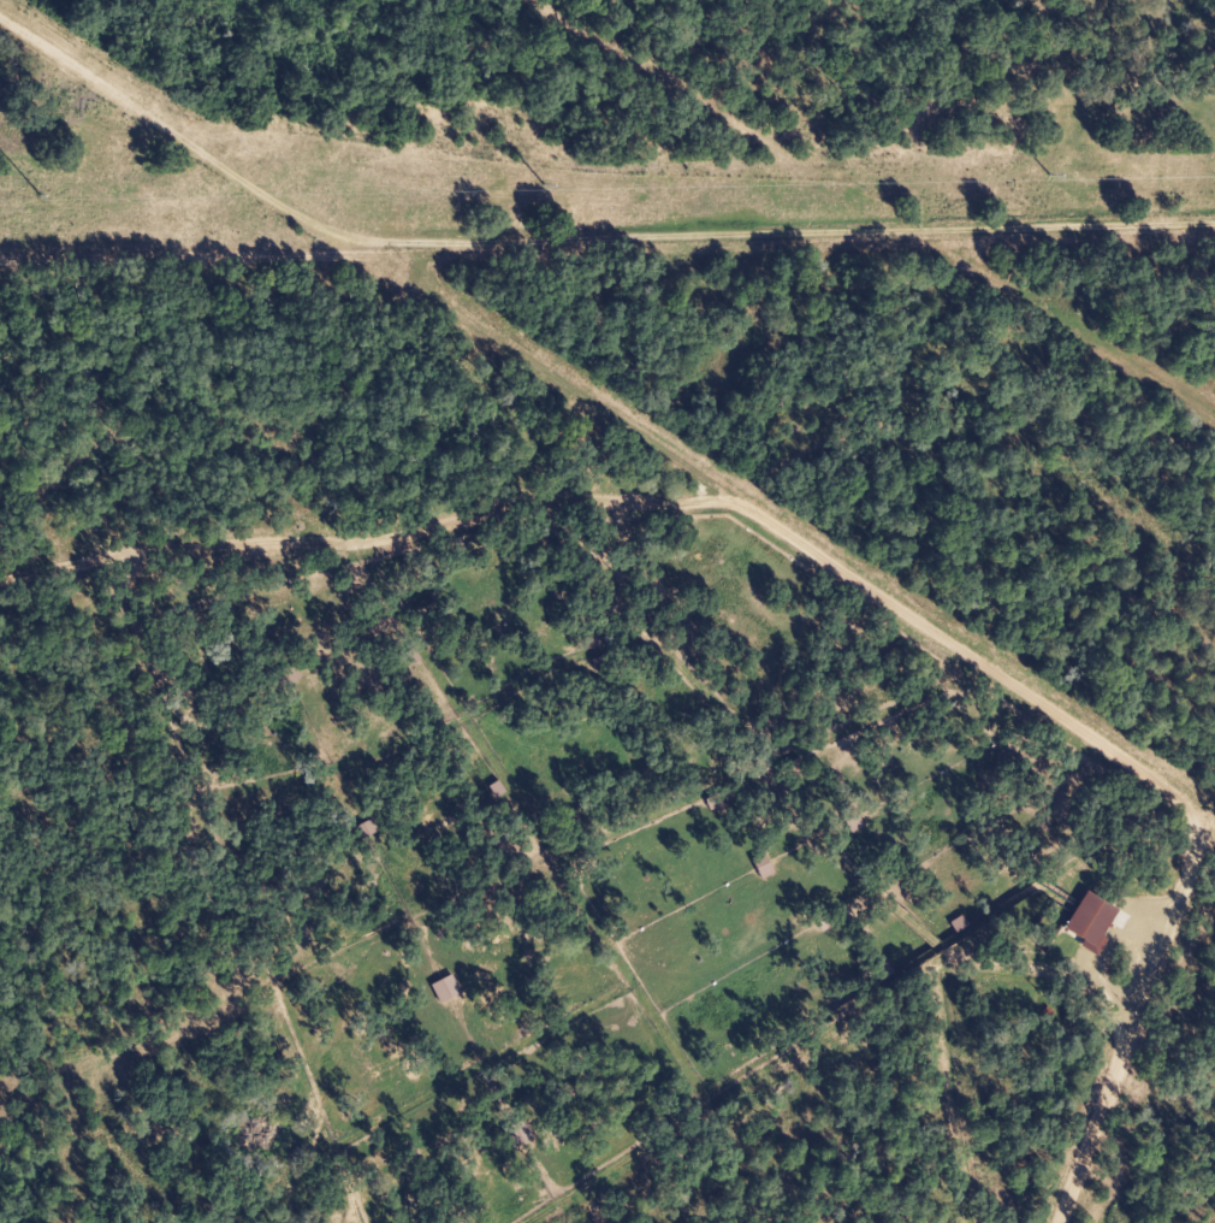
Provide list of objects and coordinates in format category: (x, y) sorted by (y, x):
road: (575, 228)

